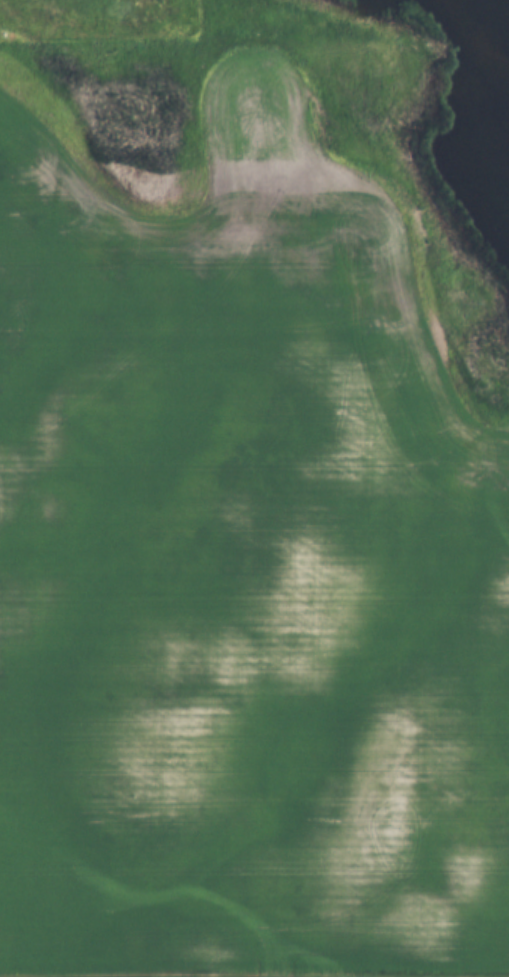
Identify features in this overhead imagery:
road: (424, 975)

